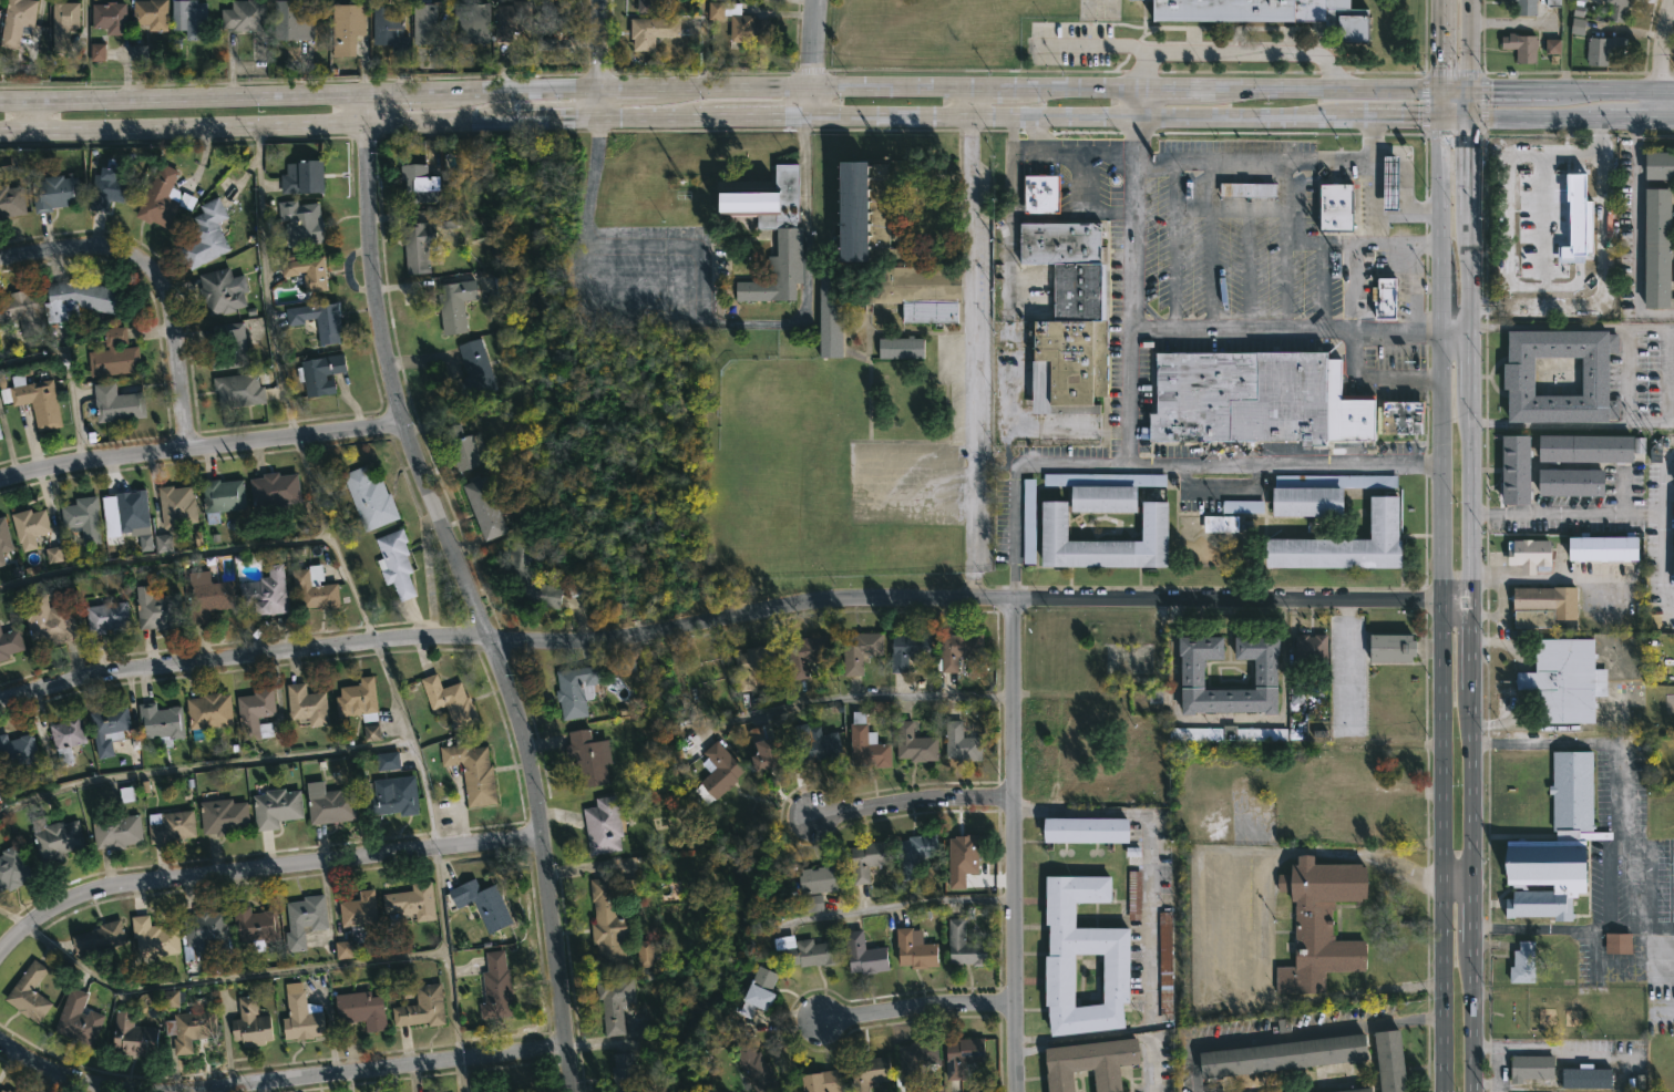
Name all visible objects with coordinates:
building: (1581, 0)
building: (1552, 2)
building: (653, 7)
building: (1527, 8)
building: (1619, 10)
building: (1272, 13)
building: (151, 14)
building: (245, 17)
building: (110, 18)
building: (191, 18)
building: (511, 20)
building: (17, 21)
building: (554, 21)
building: (291, 22)
building: (63, 23)
building: (473, 23)
building: (740, 23)
building: (1577, 27)
building: (429, 28)
building: (347, 29)
building: (389, 31)
building: (651, 32)
building: (543, 44)
road: (598, 45)
road: (1095, 47)
road: (1441, 47)
road: (1471, 47)
building: (1552, 47)
building: (1521, 48)
road: (1663, 48)
building: (1603, 50)
building: (97, 52)
building: (138, 52)
road: (1233, 52)
road: (811, 59)
road: (482, 91)
road: (626, 91)
road: (813, 91)
road: (995, 91)
road: (1077, 91)
road: (1167, 92)
road: (1319, 92)
traffic signals: (1441, 93)
road: (1456, 93)
traffic signals: (1471, 93)
road: (1511, 93)
road: (1605, 93)
road: (1666, 93)
road: (183, 96)
road: (597, 104)
road: (973, 104)
road: (1136, 105)
road: (1660, 105)
road: (1440, 106)
road: (1472, 106)
road: (367, 107)
road: (33, 112)
road: (650, 117)
road: (481, 119)
road: (758, 119)
road: (974, 119)
road: (1573, 119)
road: (1244, 120)
road: (1396, 120)
traffic signals: (1440, 120)
road: (1457, 120)
traffic signals: (1473, 120)
road: (183, 124)
road: (1023, 135)
road: (1136, 136)
road: (1074, 151)
road: (1136, 158)
road: (1352, 163)
building: (1658, 164)
road: (1472, 166)
building: (302, 175)
road: (1407, 178)
building: (1389, 183)
gas station: (1389, 183)
building: (422, 184)
building: (111, 186)
building: (1245, 189)
building: (54, 190)
road: (1209, 192)
building: (1041, 193)
building: (162, 197)
building: (11, 199)
road: (1288, 199)
building: (1335, 206)
building: (854, 208)
building: (301, 222)
building: (206, 234)
road: (1634, 236)
building: (788, 240)
building: (1059, 241)
building: (419, 245)
building: (1655, 246)
building: (307, 270)
road: (1471, 271)
road: (1211, 275)
road: (158, 279)
road: (265, 281)
building: (915, 281)
road: (1355, 286)
building: (222, 290)
building: (1077, 290)
building: (80, 297)
building: (1387, 297)
building: (455, 305)
road: (1013, 308)
building: (23, 310)
building: (829, 311)
building: (927, 311)
road: (701, 316)
building: (319, 319)
road: (974, 323)
road: (1570, 328)
road: (1455, 329)
road: (1201, 331)
building: (233, 339)
building: (898, 346)
building: (114, 353)
building: (1067, 364)
road: (1471, 364)
building: (474, 370)
road: (68, 373)
building: (320, 373)
road: (1671, 373)
building: (1517, 375)
road: (1375, 379)
building: (238, 389)
road: (1131, 396)
building: (1240, 396)
building: (37, 400)
building: (109, 403)
building: (1346, 410)
building: (1397, 416)
road: (1572, 422)
building: (0, 435)
road: (201, 446)
building: (464, 447)
building: (1589, 447)
road: (1158, 461)
building: (1514, 468)
building: (1673, 478)
building: (1570, 482)
building: (274, 491)
building: (223, 495)
building: (370, 497)
building: (1100, 497)
road: (1471, 499)
building: (1305, 501)
building: (176, 505)
building: (1239, 506)
building: (125, 507)
building: (486, 508)
road: (1567, 515)
building: (83, 518)
building: (1216, 523)
building: (1028, 524)
building: (30, 526)
road: (1663, 533)
building: (4, 537)
road: (331, 539)
building: (1101, 540)
building: (163, 543)
building: (1343, 544)
road: (976, 545)
building: (1603, 547)
building: (1672, 548)
building: (1527, 554)
building: (53, 555)
building: (396, 563)
building: (530, 577)
road: (1550, 578)
road: (977, 581)
building: (315, 588)
building: (266, 594)
building: (206, 595)
building: (1544, 599)
road: (472, 605)
road: (1440, 605)
building: (157, 612)
road: (731, 614)
building: (107, 618)
building: (1531, 618)
building: (52, 620)
building: (10, 642)
building: (908, 648)
building: (1390, 648)
road: (1471, 648)
building: (959, 649)
road: (1346, 649)
building: (860, 650)
building: (1312, 650)
building: (805, 653)
building: (1129, 658)
building: (753, 665)
building: (1265, 673)
building: (1562, 680)
building: (576, 690)
building: (359, 700)
building: (450, 701)
road: (803, 702)
building: (307, 704)
building: (209, 711)
building: (256, 713)
road: (1230, 720)
building: (161, 723)
building: (109, 728)
building: (370, 733)
building: (66, 736)
building: (817, 741)
building: (962, 743)
road: (408, 744)
building: (867, 744)
building: (915, 744)
building: (17, 751)
building: (771, 754)
building: (588, 758)
building: (388, 761)
road: (1617, 764)
road: (199, 765)
building: (718, 771)
building: (473, 772)
road: (1471, 787)
building: (394, 796)
building: (329, 804)
road: (912, 804)
building: (276, 808)
building: (223, 816)
building: (604, 825)
building: (171, 826)
building: (1088, 830)
building: (116, 831)
building: (55, 838)
building: (1553, 845)
road: (1013, 846)
building: (916, 853)
building: (867, 859)
building: (961, 859)
building: (12, 868)
road: (258, 868)
road: (1456, 879)
building: (820, 884)
building: (1133, 895)
building: (415, 902)
building: (483, 904)
road: (895, 906)
building: (359, 910)
road: (1471, 911)
road: (12, 917)
building: (612, 919)
building: (304, 920)
road: (1149, 923)
building: (1319, 923)
building: (255, 926)
road: (1229, 926)
road: (1572, 928)
building: (207, 931)
building: (100, 937)
building: (154, 938)
building: (1619, 942)
building: (965, 947)
building: (915, 948)
building: (343, 950)
building: (807, 950)
road: (446, 954)
building: (646, 954)
building: (864, 955)
building: (1524, 964)
building: (1164, 966)
road: (225, 976)
building: (1062, 980)
building: (496, 988)
building: (759, 992)
building: (29, 993)
building: (165, 998)
building: (615, 1002)
building: (422, 1008)
road: (915, 1009)
building: (361, 1010)
building: (301, 1016)
road: (1471, 1018)
building: (78, 1019)
building: (250, 1023)
building: (191, 1029)
road: (1293, 1032)
building: (133, 1037)
road: (1109, 1037)
road: (1553, 1049)
building: (1281, 1054)
building: (963, 1055)
building: (916, 1060)
building: (1388, 1060)
building: (1089, 1063)
building: (757, 1068)
building: (1530, 1068)
building: (870, 1072)
building: (625, 1073)
road: (466, 1075)
building: (1589, 1078)
road: (277, 1079)
building: (822, 1081)
building: (1352, 1090)
building: (1, 1091)
building: (8, 1091)

